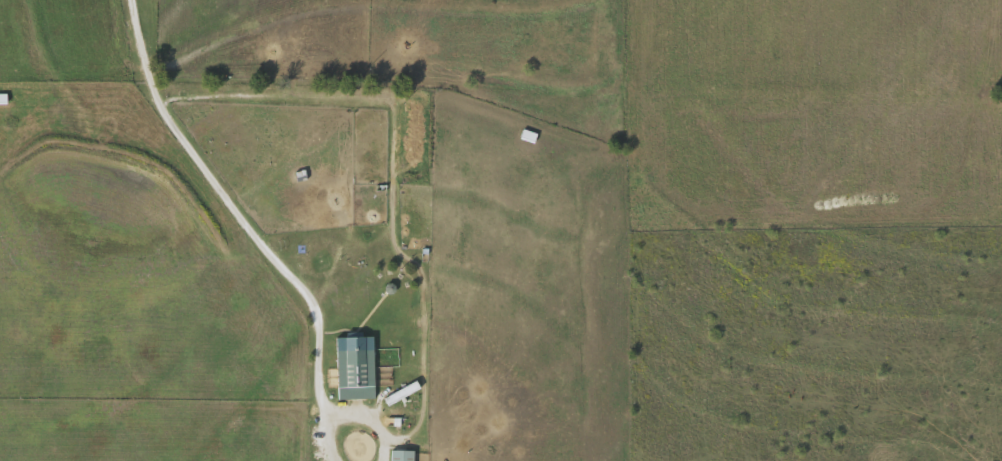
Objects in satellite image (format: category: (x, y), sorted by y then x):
building: (527, 134)
road: (256, 240)
building: (355, 372)
building: (401, 454)

